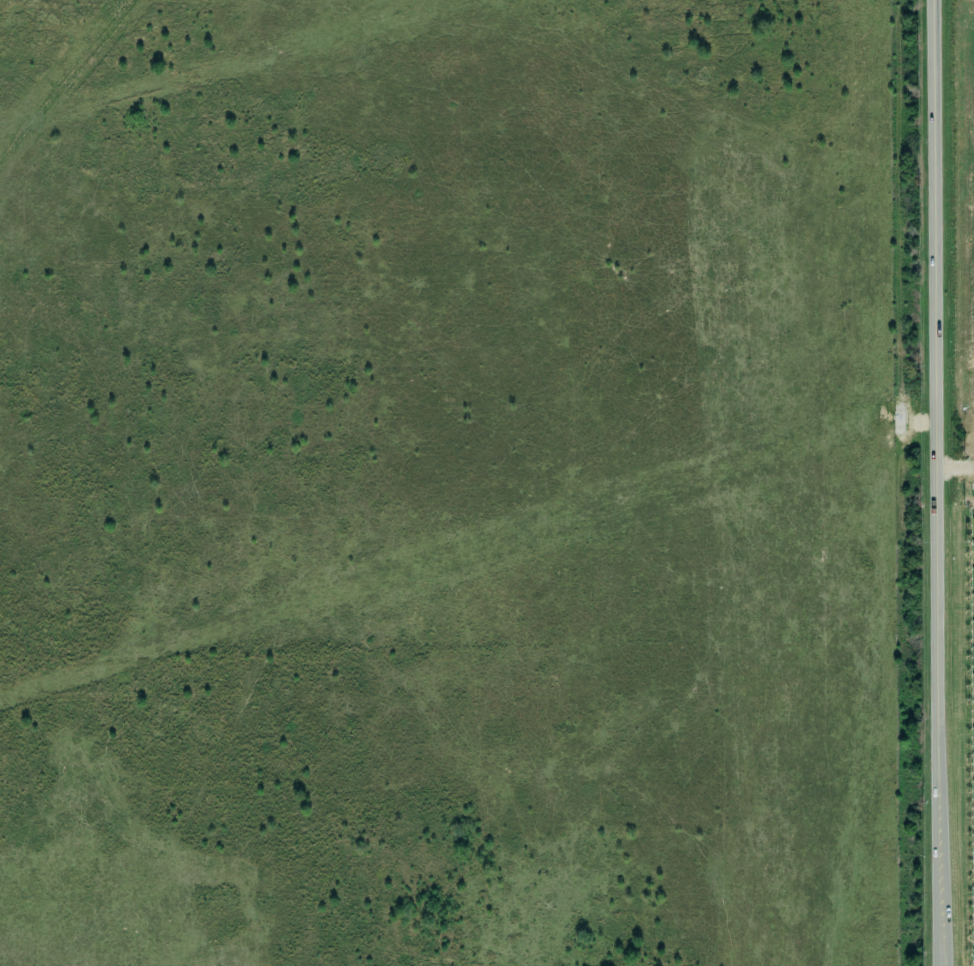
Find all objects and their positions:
road: (936, 483)

